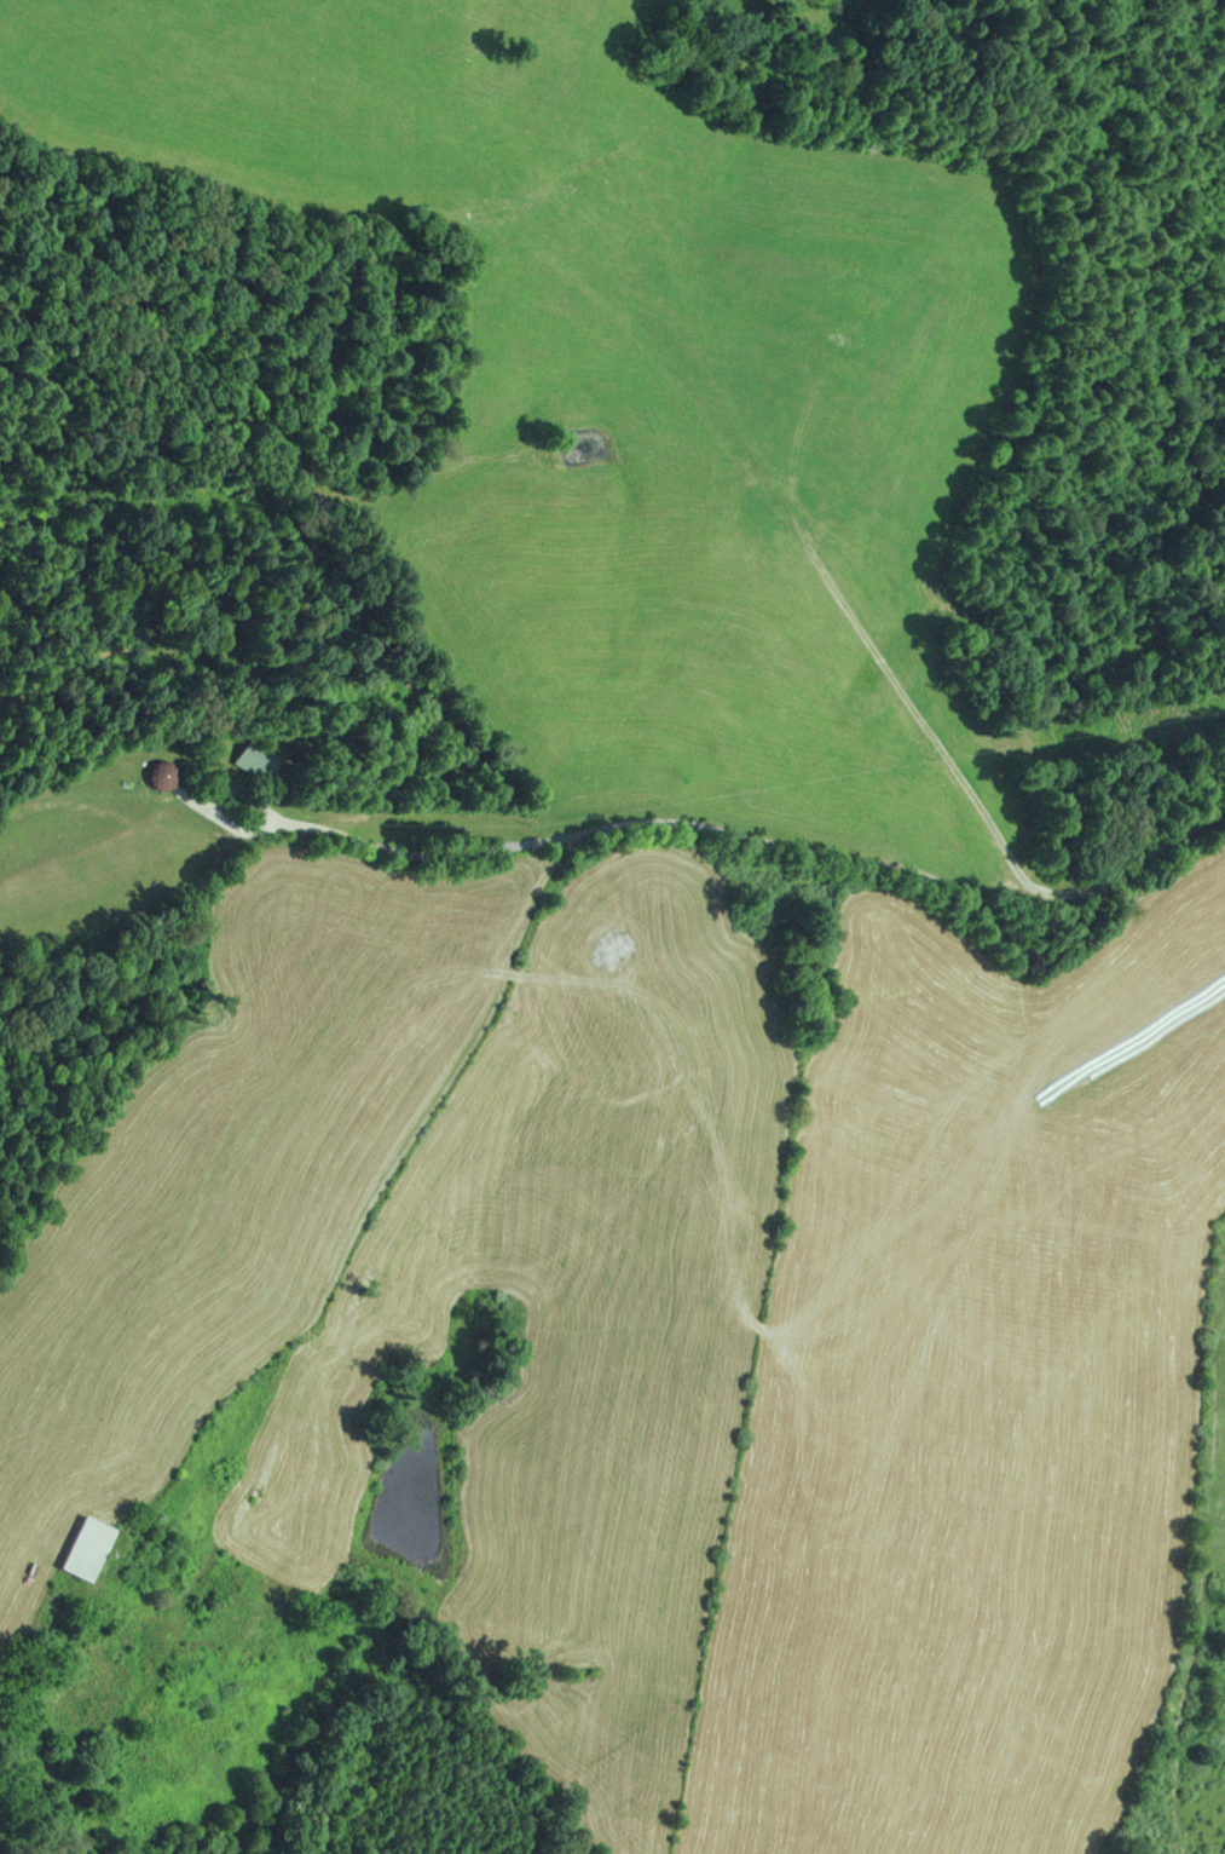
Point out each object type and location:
building: (92, 1549)

